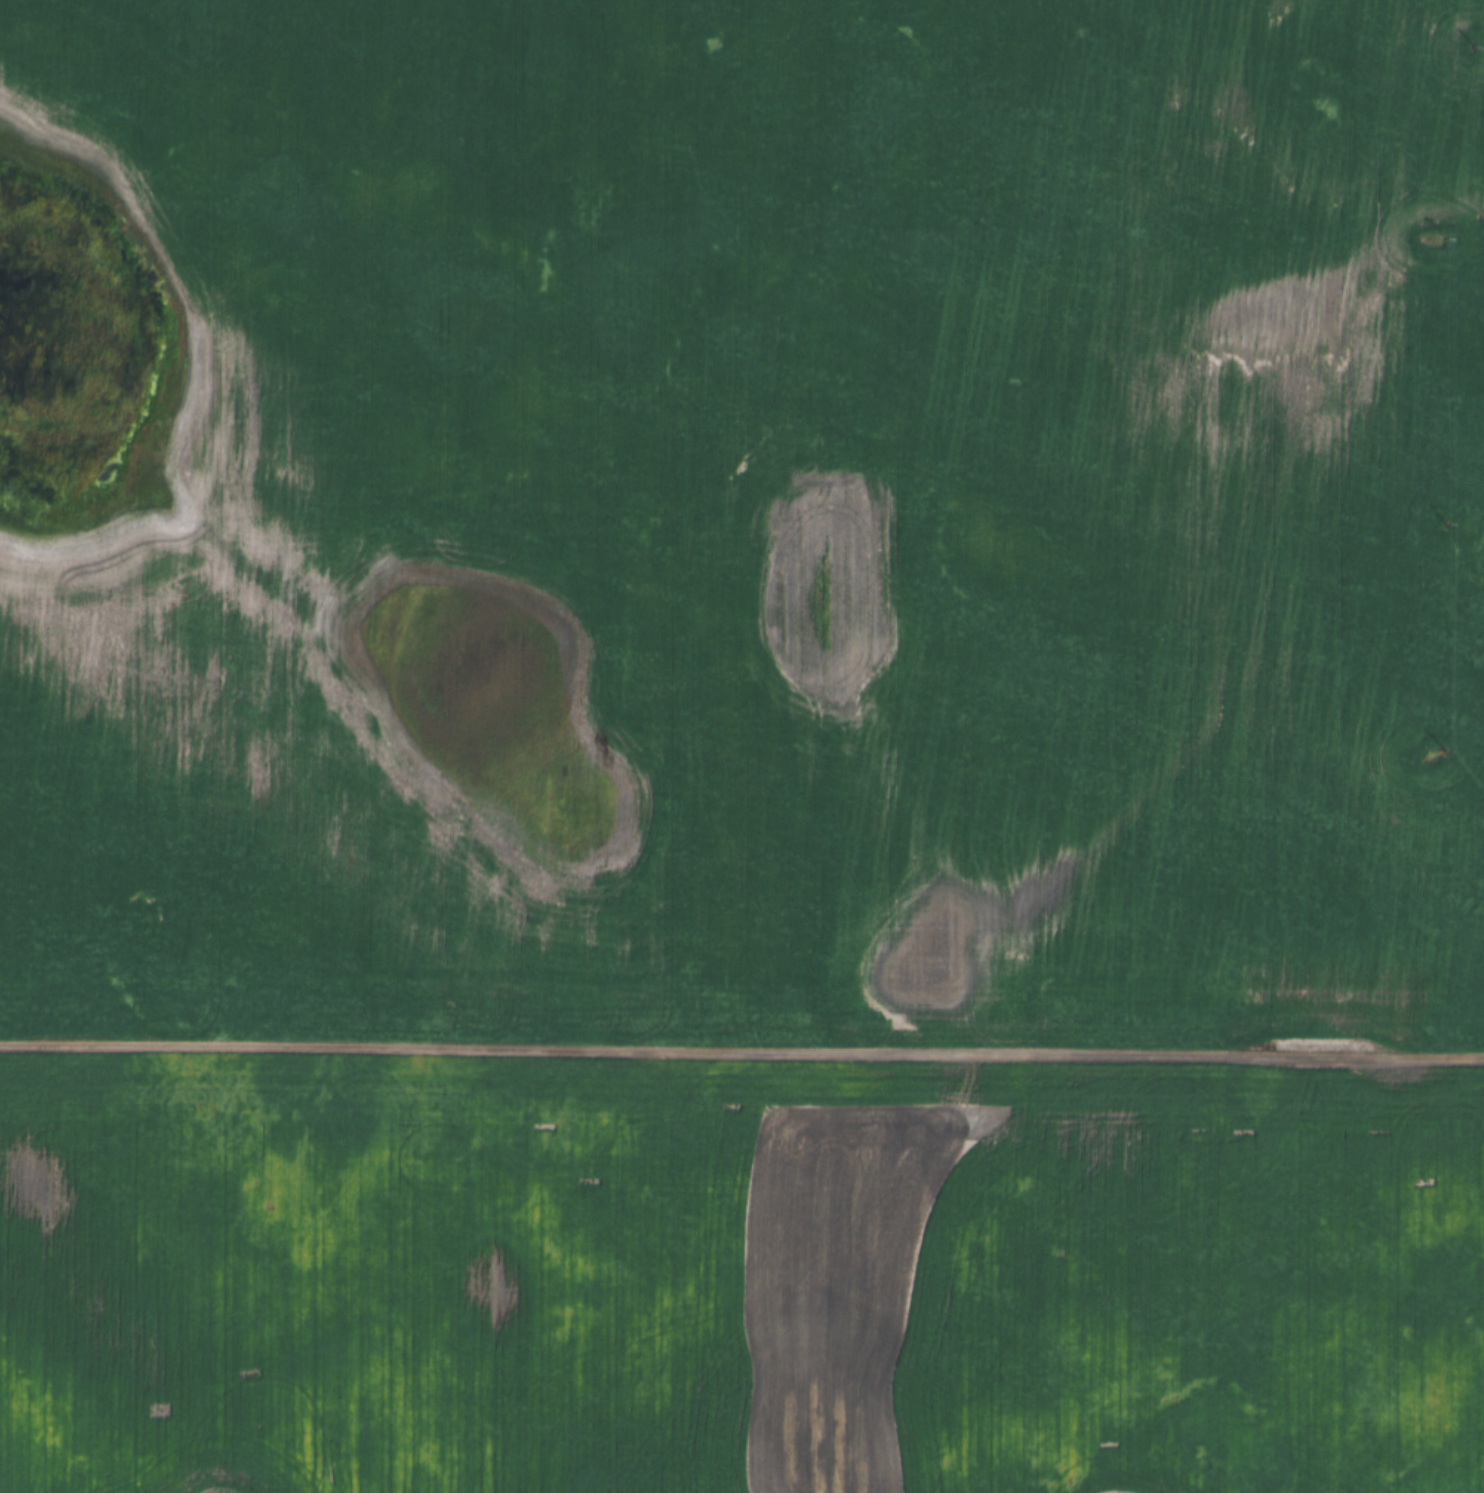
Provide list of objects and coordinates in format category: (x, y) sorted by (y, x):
road: (741, 1049)

